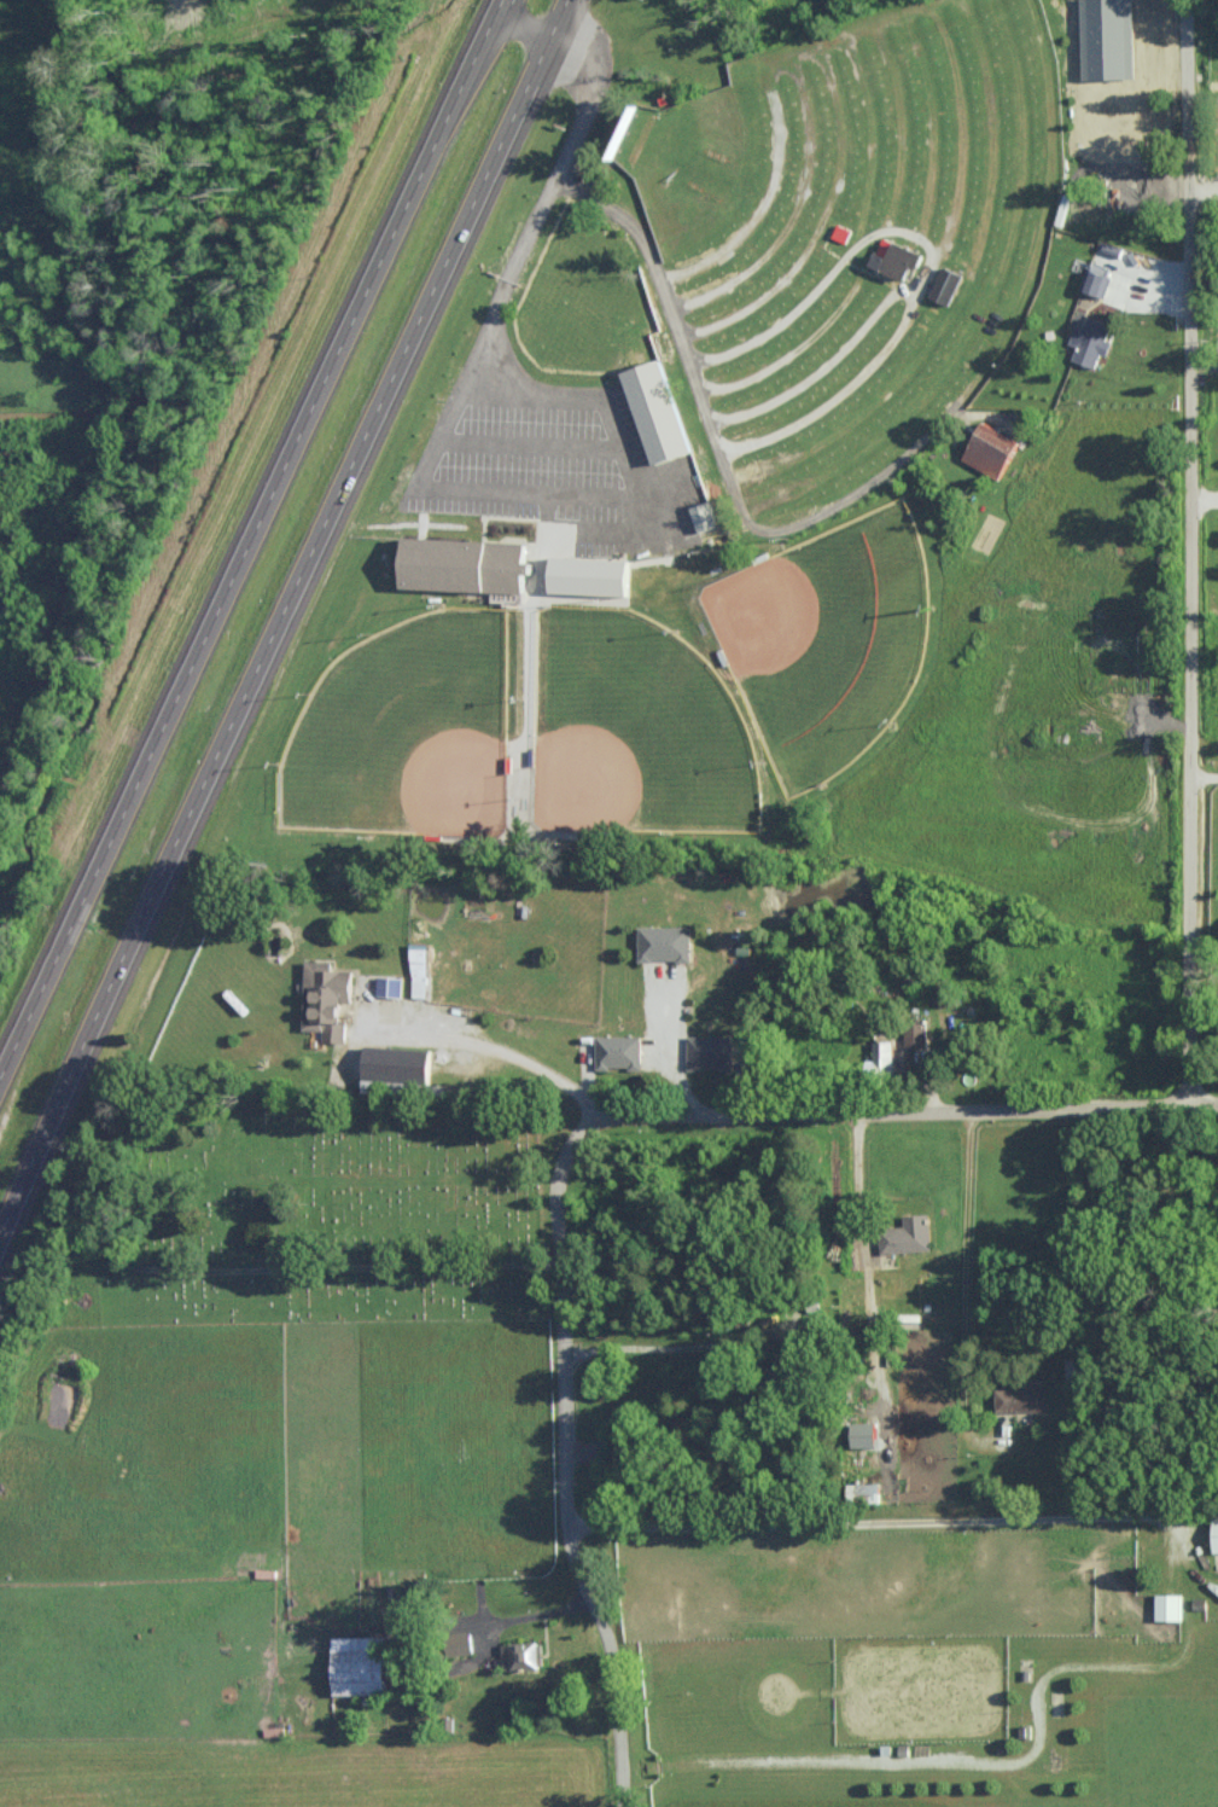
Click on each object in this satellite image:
building: (1109, 39)
road: (1202, 77)
road: (1202, 191)
road: (518, 243)
building: (897, 257)
road: (929, 257)
building: (1096, 277)
building: (946, 284)
building: (1091, 341)
road: (1202, 366)
building: (660, 411)
road: (716, 445)
building: (993, 451)
road: (1202, 492)
building: (705, 516)
road: (247, 534)
road: (1187, 551)
building: (466, 564)
building: (593, 576)
road: (275, 622)
road: (1202, 778)
building: (665, 942)
building: (419, 970)
building: (390, 986)
building: (327, 999)
building: (915, 1036)
road: (484, 1047)
road: (666, 1051)
building: (618, 1052)
building: (709, 1052)
building: (882, 1056)
building: (398, 1064)
road: (944, 1114)
road: (857, 1198)
park: (321, 1215)
building: (908, 1234)
road: (962, 1288)
road: (655, 1346)
building: (1024, 1396)
road: (558, 1423)
building: (867, 1491)
building: (1217, 1533)
road: (1188, 1597)
building: (1170, 1605)
road: (495, 1625)
building: (520, 1655)
building: (361, 1664)

